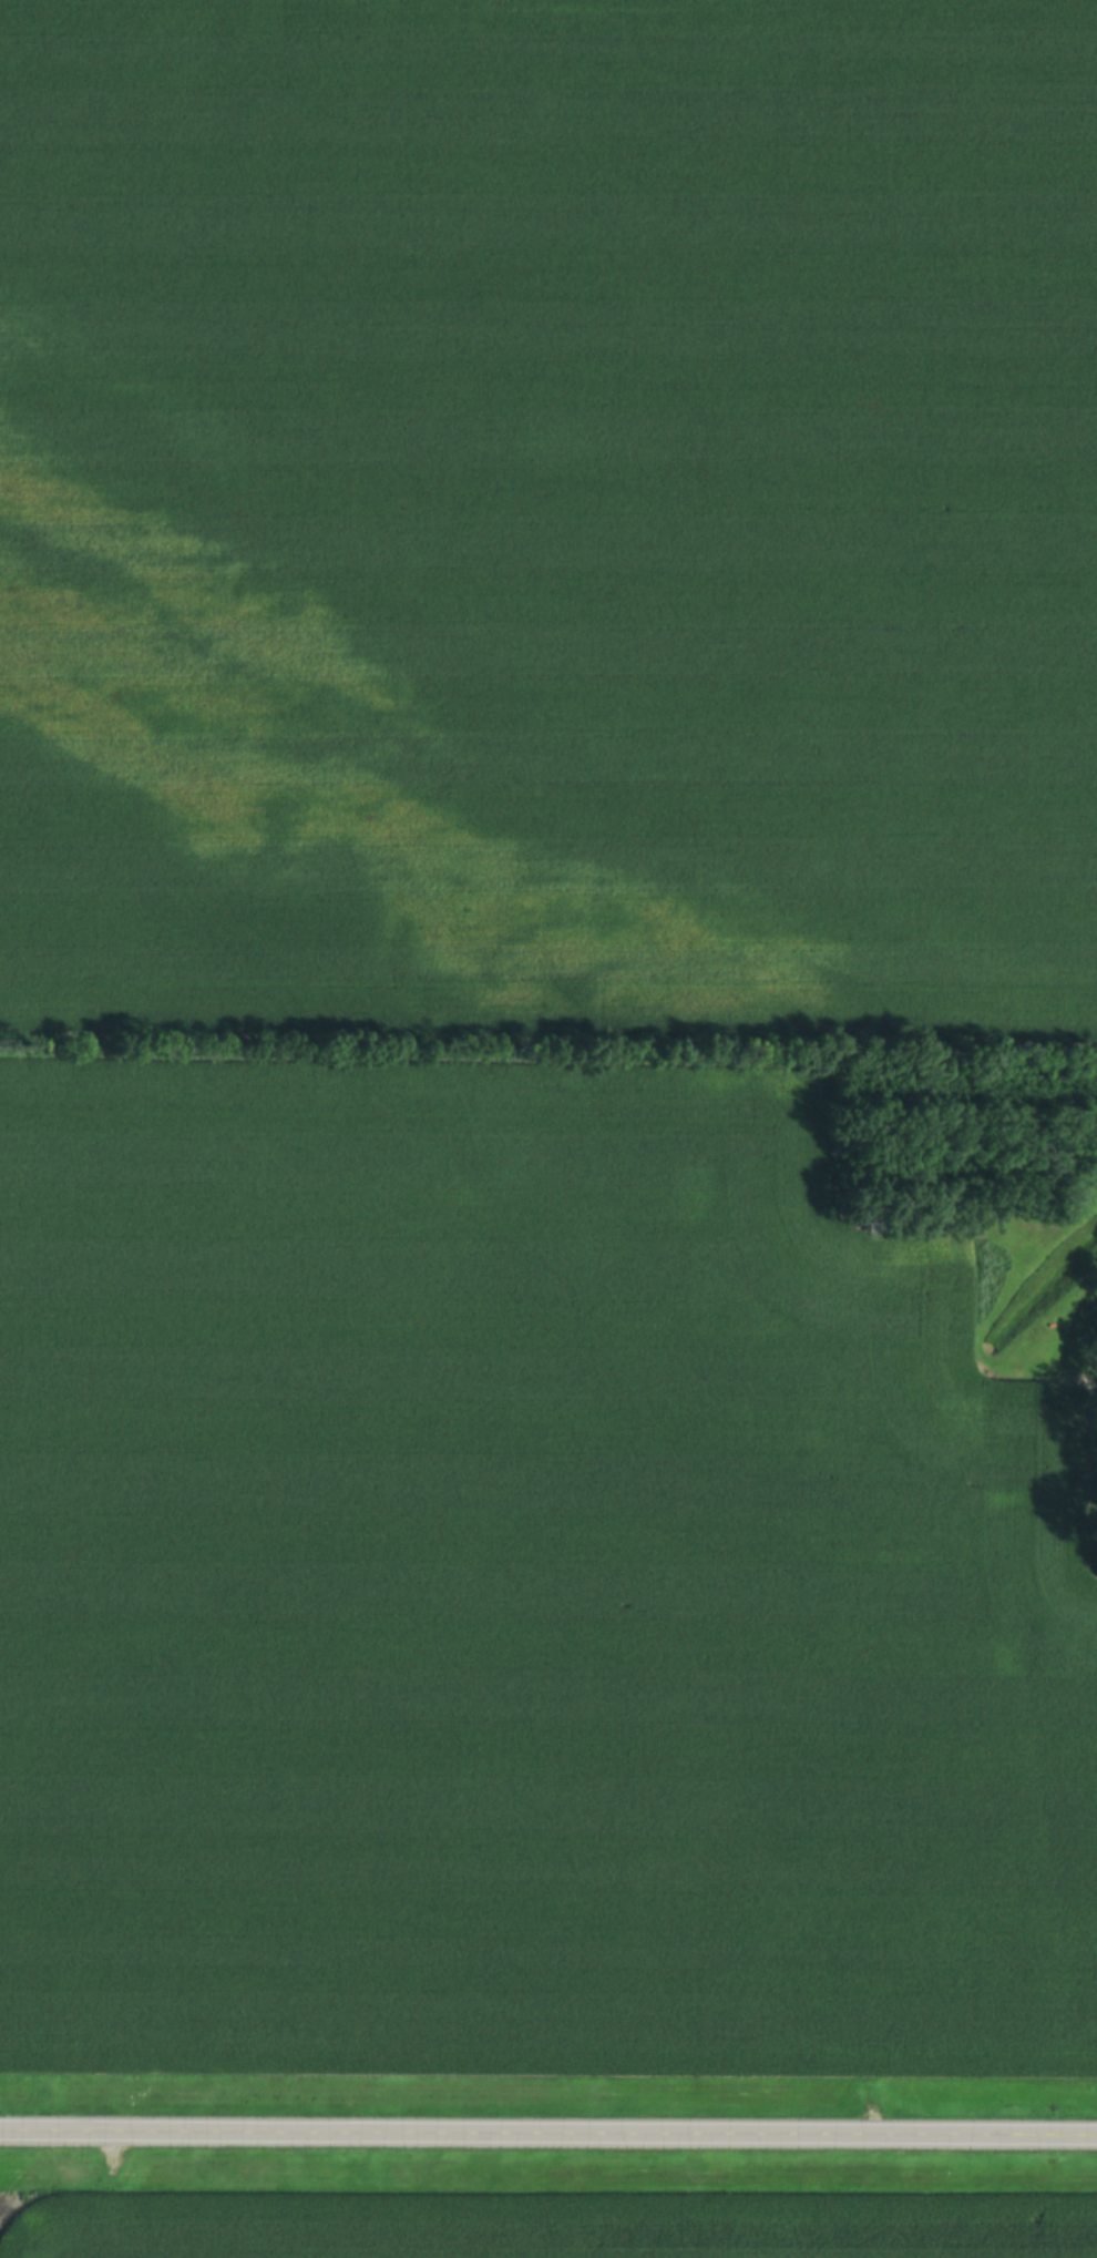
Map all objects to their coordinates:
road: (548, 2129)

